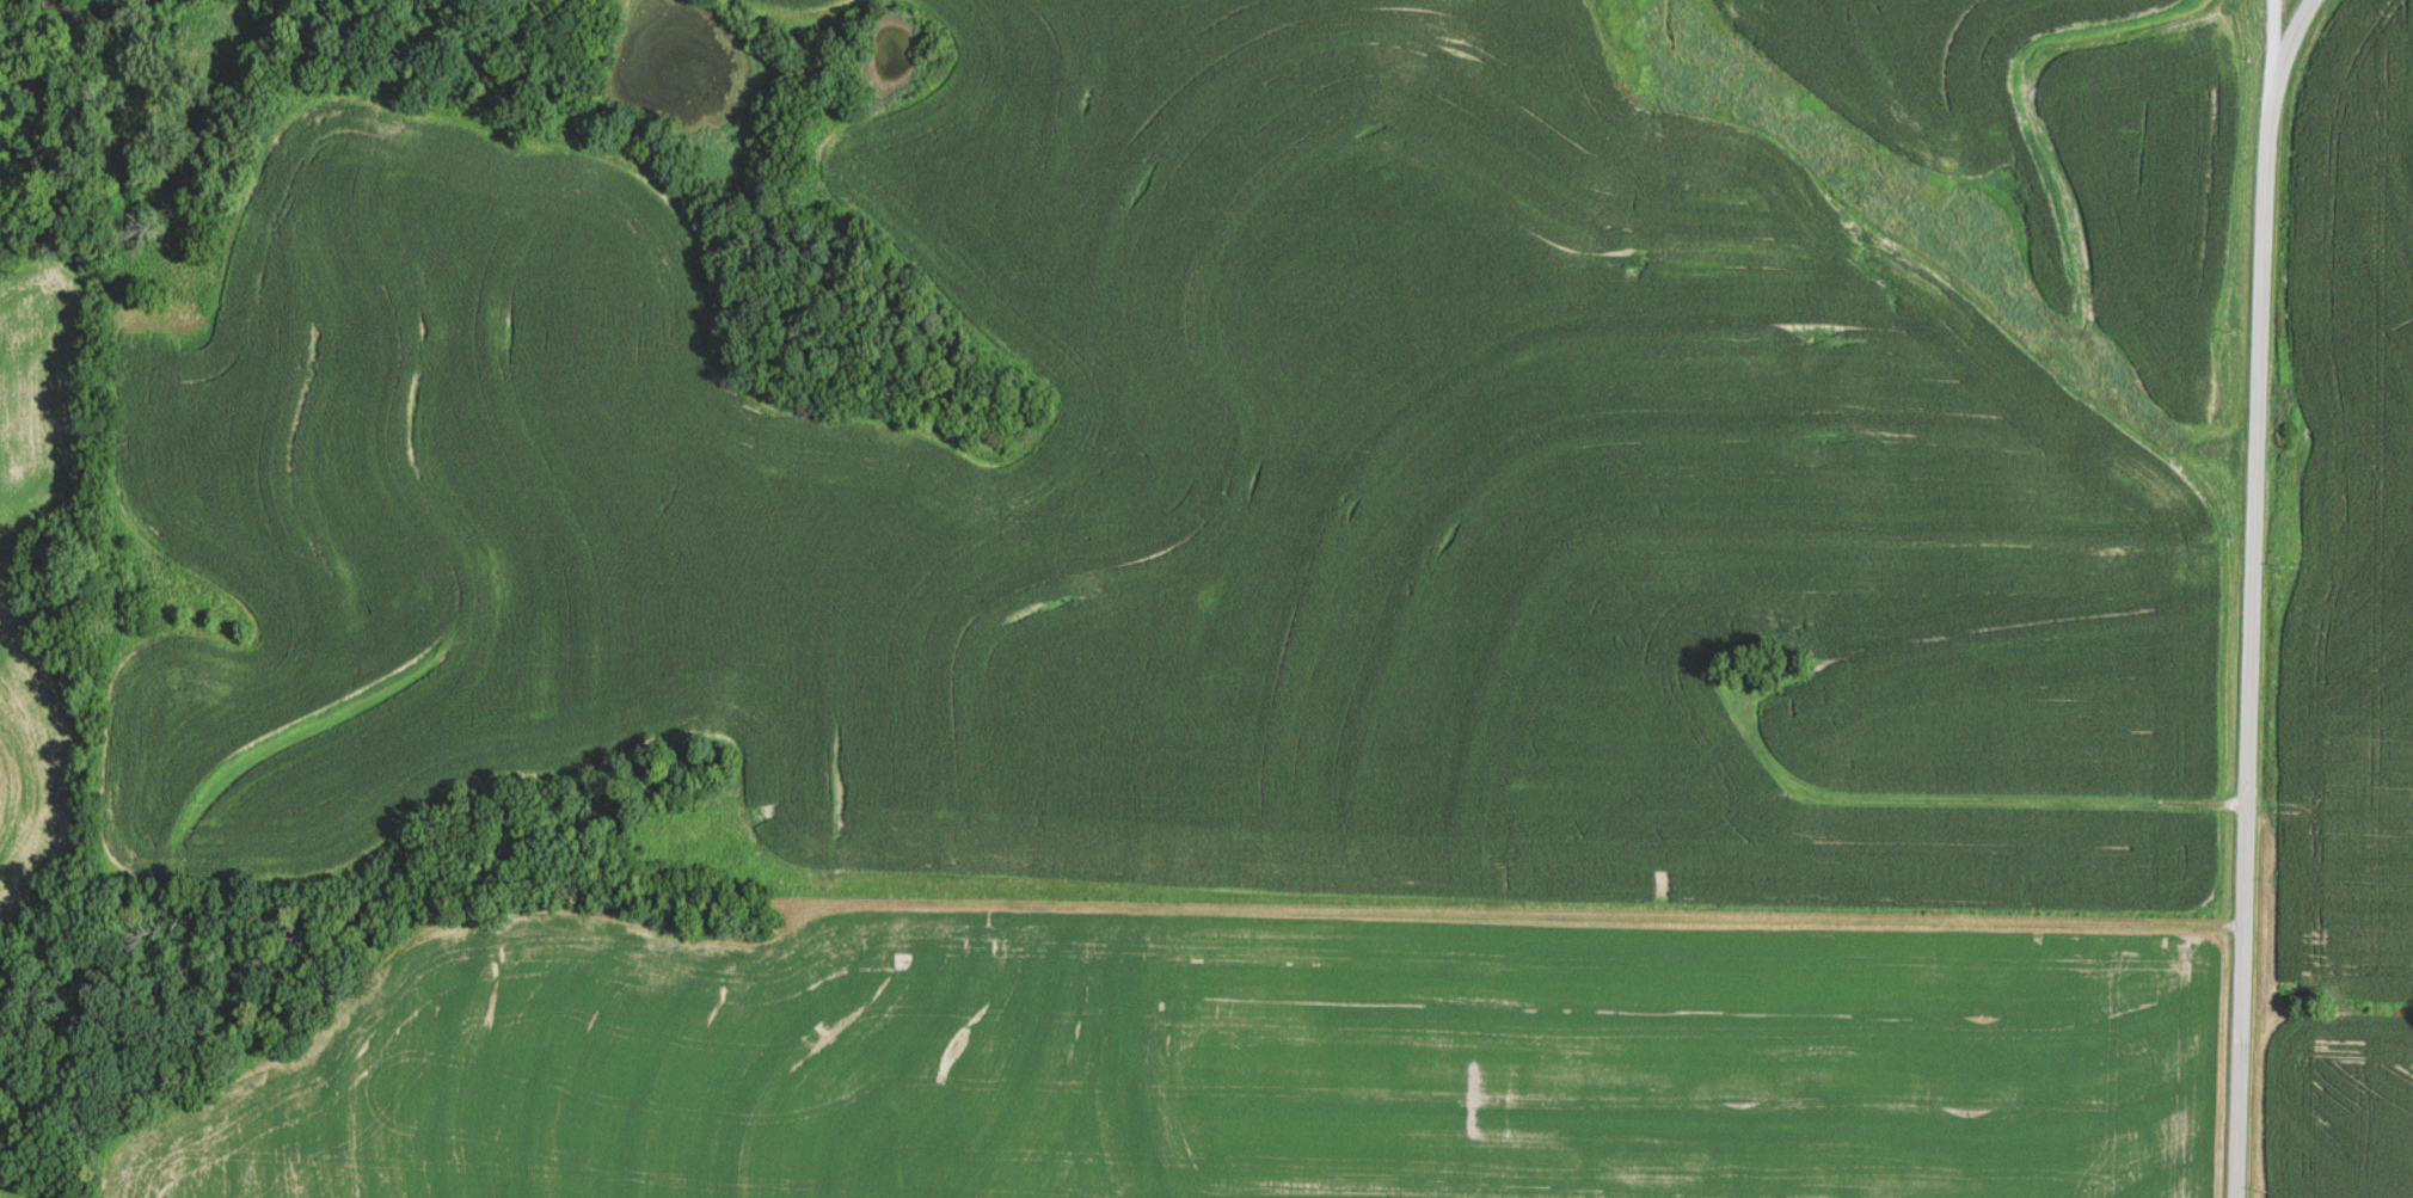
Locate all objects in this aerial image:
road: (2270, 49)
road: (2251, 595)

